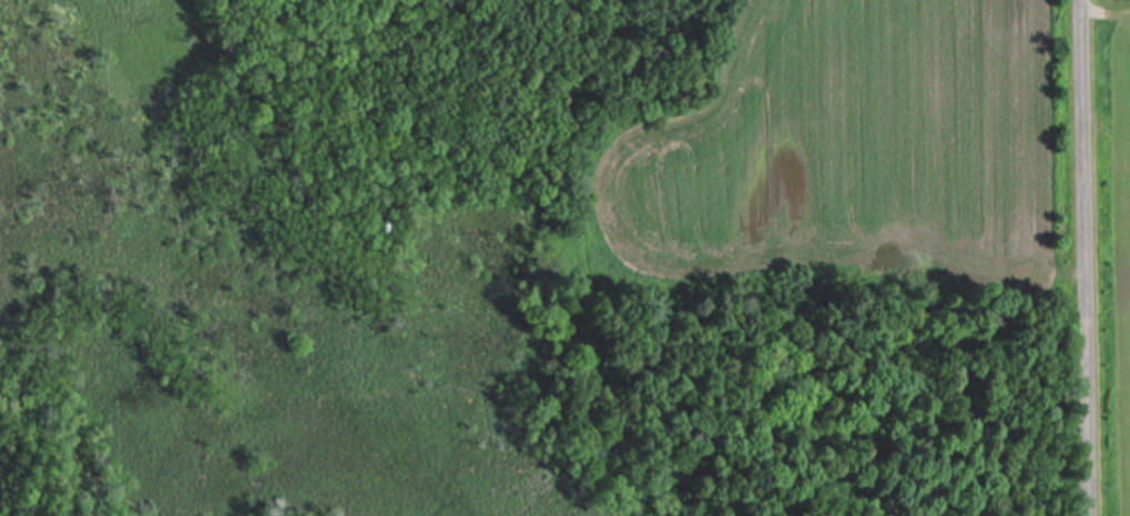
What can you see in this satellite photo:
road: (1085, 257)

